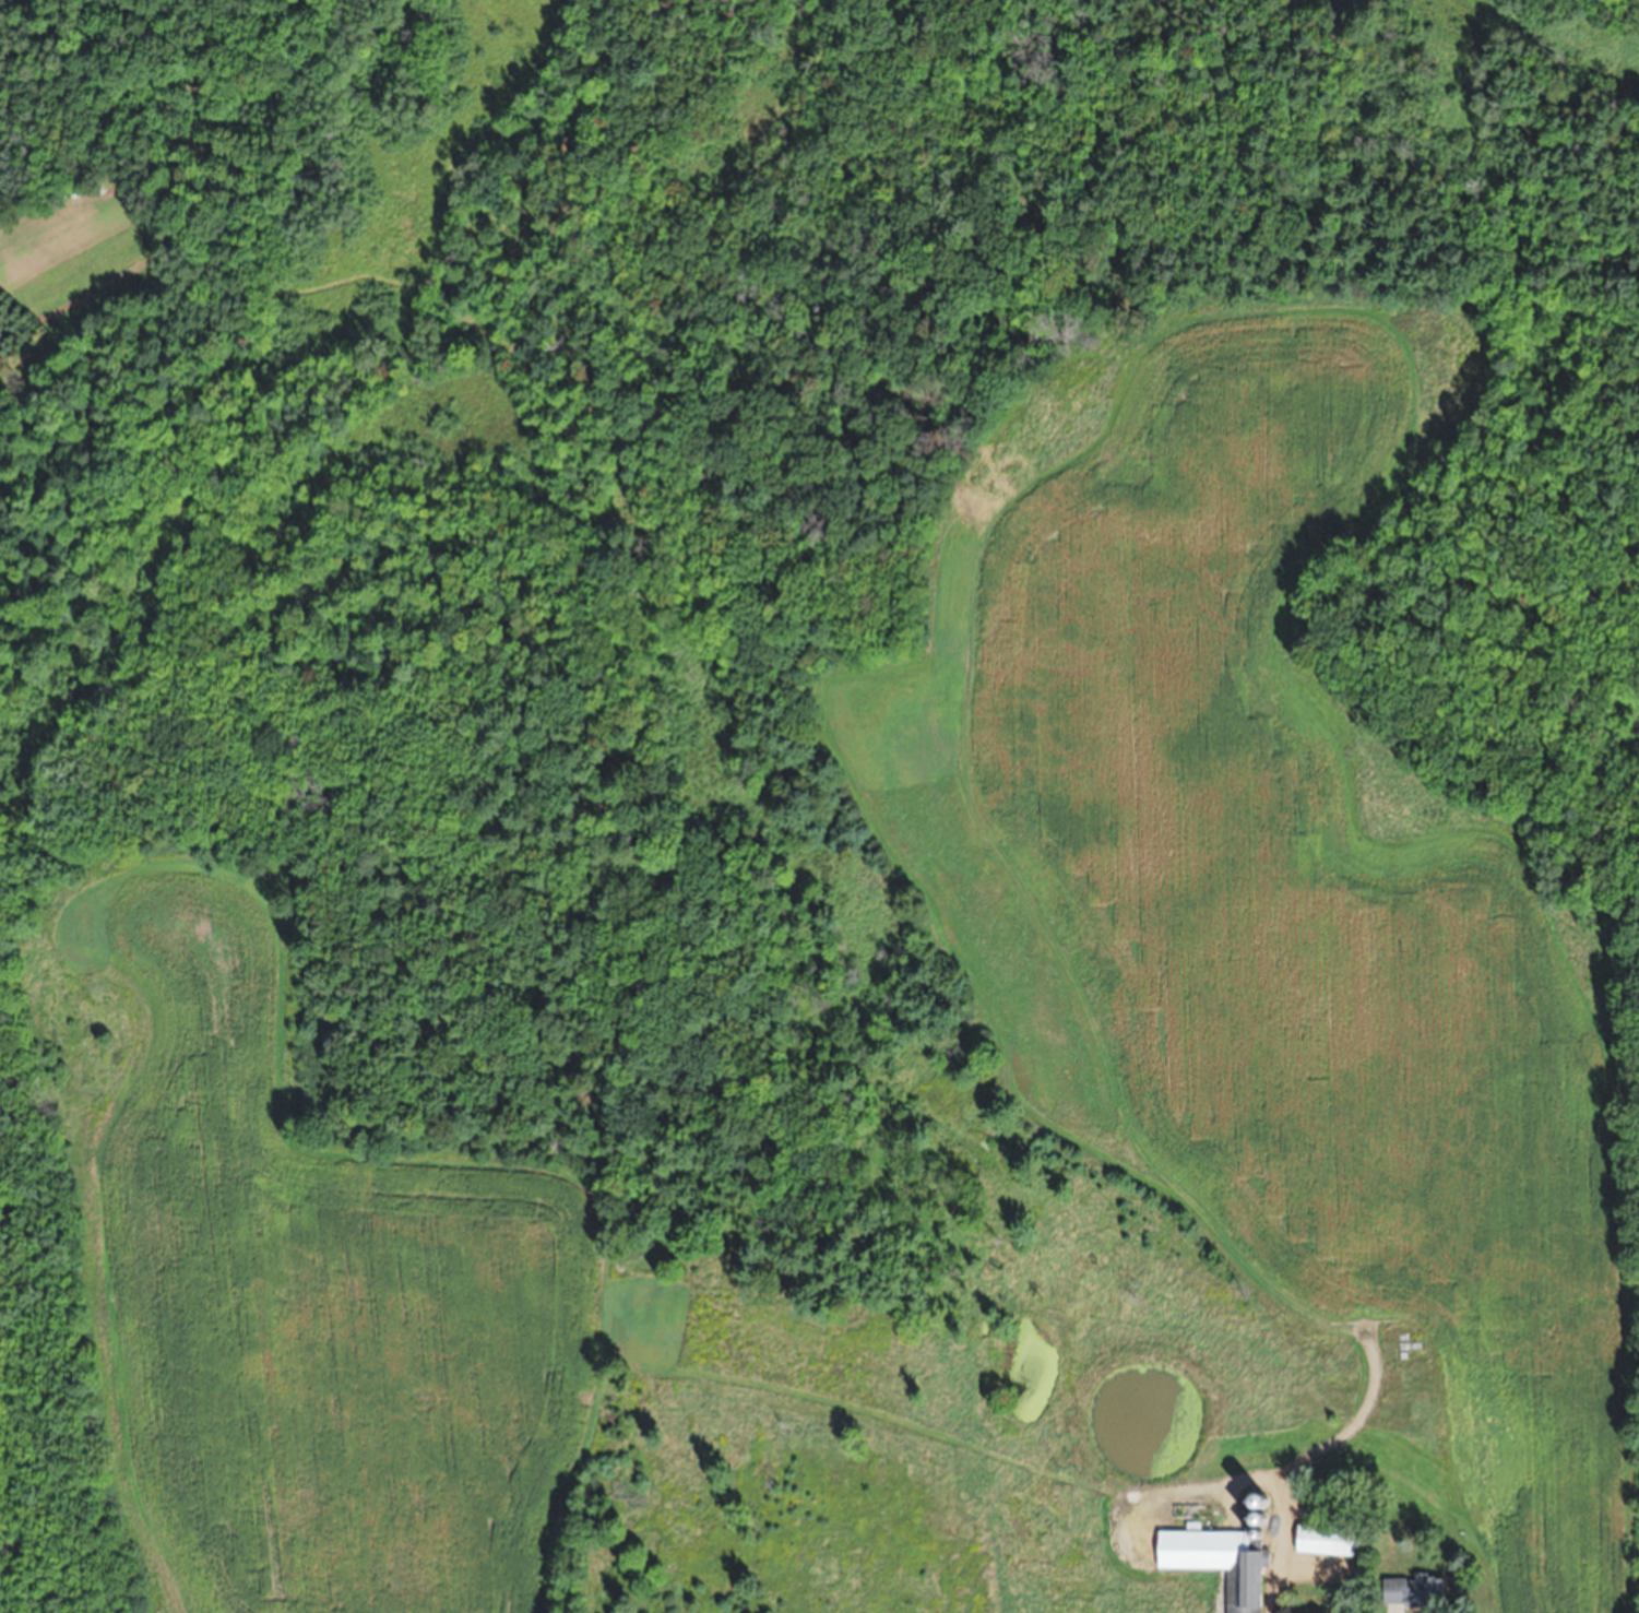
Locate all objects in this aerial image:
building: (1187, 1509)
building: (1325, 1538)
building: (1218, 1561)
building: (1414, 1590)

